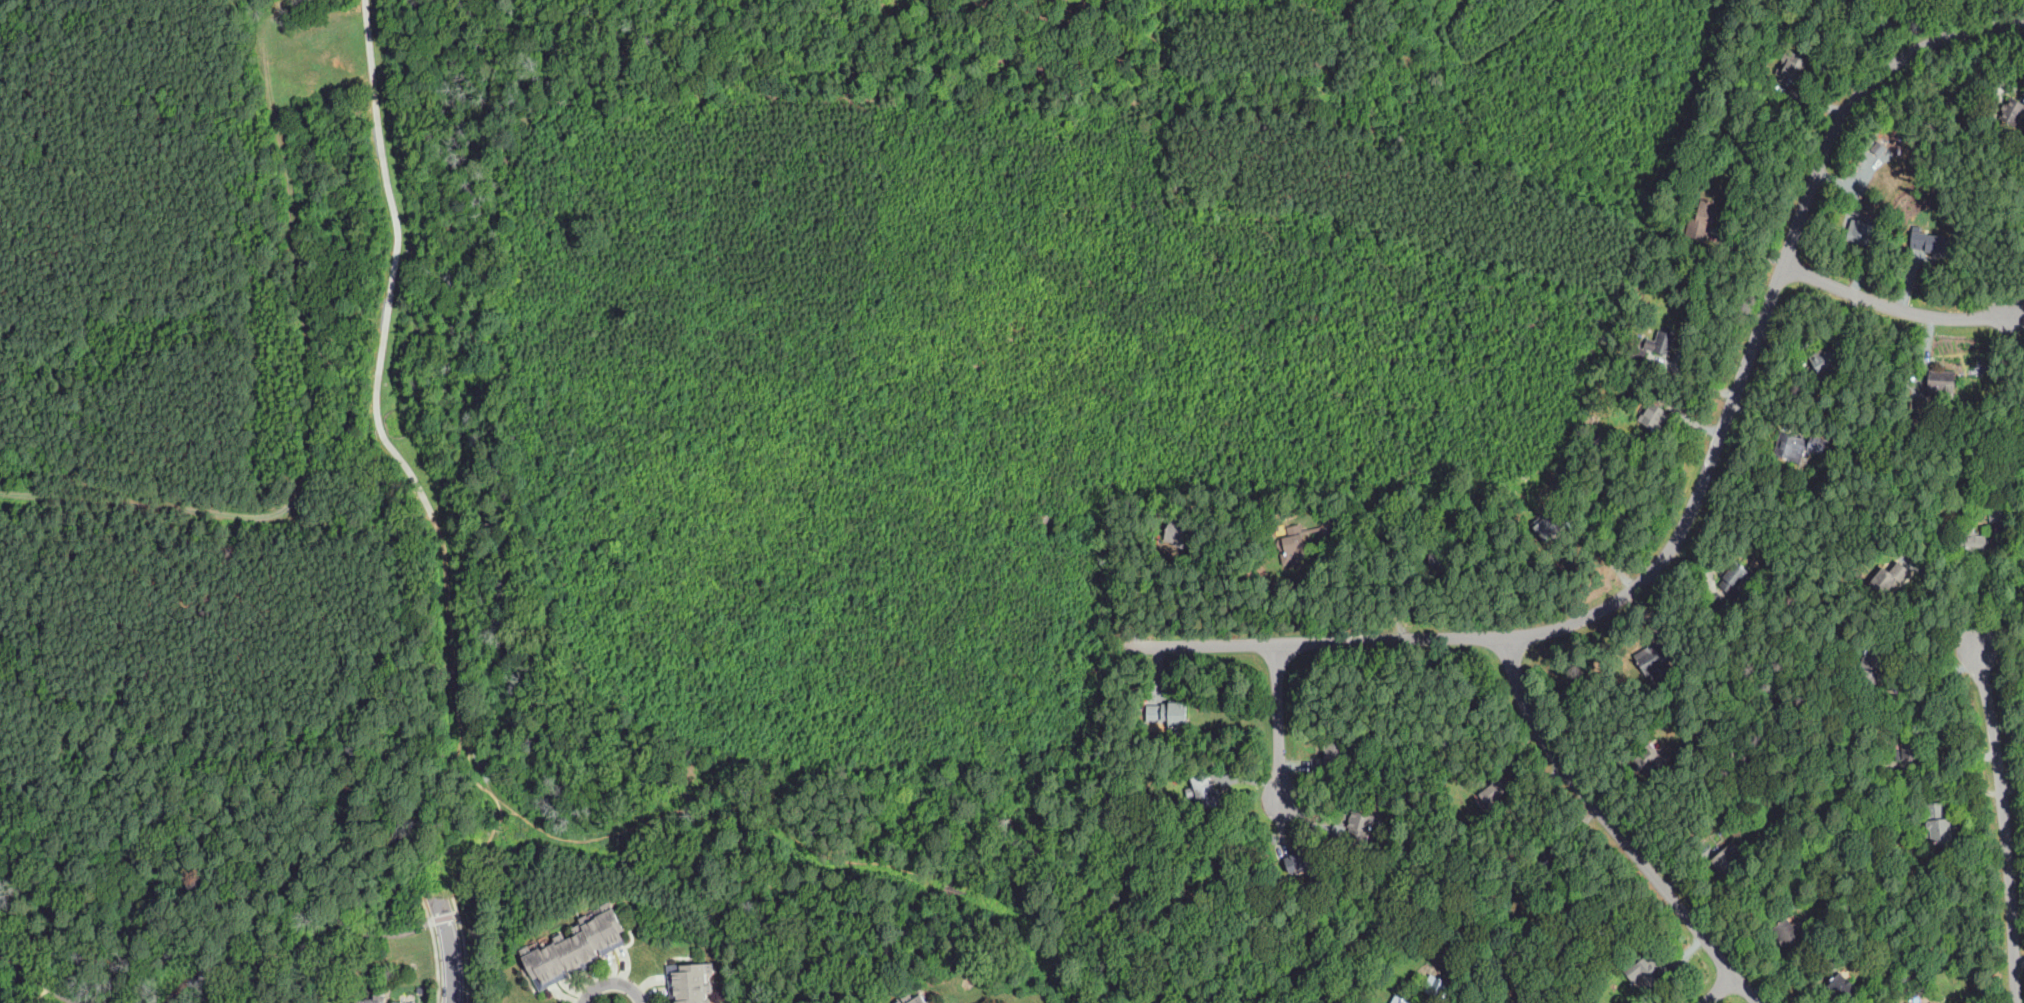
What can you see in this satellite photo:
building: (1792, 69)
building: (2011, 111)
building: (1879, 148)
road: (84, 184)
building: (1701, 219)
building: (1971, 230)
building: (1858, 232)
building: (1928, 241)
park: (238, 255)
road: (291, 256)
road: (383, 268)
road: (1895, 305)
road: (2019, 309)
building: (1664, 343)
building: (1826, 359)
building: (1940, 382)
building: (1654, 416)
building: (1596, 440)
building: (1817, 444)
building: (1791, 448)
road: (217, 502)
building: (1982, 502)
road: (1695, 503)
road: (141, 505)
building: (1997, 513)
building: (1500, 515)
building: (1330, 527)
building: (1550, 528)
building: (1178, 532)
building: (1251, 532)
road: (1040, 538)
building: (1971, 543)
building: (1293, 549)
building: (2022, 559)
building: (1441, 561)
building: (1935, 565)
building: (1737, 577)
building: (1889, 578)
road: (1985, 602)
building: (1714, 606)
road: (2000, 616)
road: (930, 635)
road: (452, 640)
building: (1874, 658)
building: (1656, 663)
building: (1868, 678)
building: (1176, 717)
road: (1278, 720)
building: (1717, 737)
building: (1912, 747)
building: (1335, 752)
building: (1653, 760)
building: (1869, 764)
road: (463, 767)
road: (467, 773)
building: (1206, 792)
building: (1494, 793)
road: (697, 808)
building: (1745, 808)
building: (1360, 824)
road: (2005, 824)
building: (1938, 825)
road: (1615, 829)
road: (490, 834)
road: (592, 839)
building: (1729, 860)
building: (1820, 860)
building: (1301, 864)
building: (1552, 868)
building: (1790, 891)
road: (456, 906)
building: (617, 931)
building: (1787, 932)
building: (601, 938)
building: (1849, 945)
building: (1961, 945)
road: (307, 946)
road: (453, 950)
building: (590, 950)
building: (1446, 955)
building: (575, 956)
road: (467, 958)
building: (557, 960)
building: (542, 967)
building: (1606, 967)
building: (1647, 969)
road: (37, 978)
building: (693, 980)
road: (612, 981)
building: (1436, 986)
building: (1841, 988)
road: (1720, 989)
road: (40, 995)
building: (693, 995)
building: (1526, 999)
building: (920, 1000)
building: (1400, 1000)
building: (369, 1001)
building: (931, 1002)
building: (1385, 1002)

